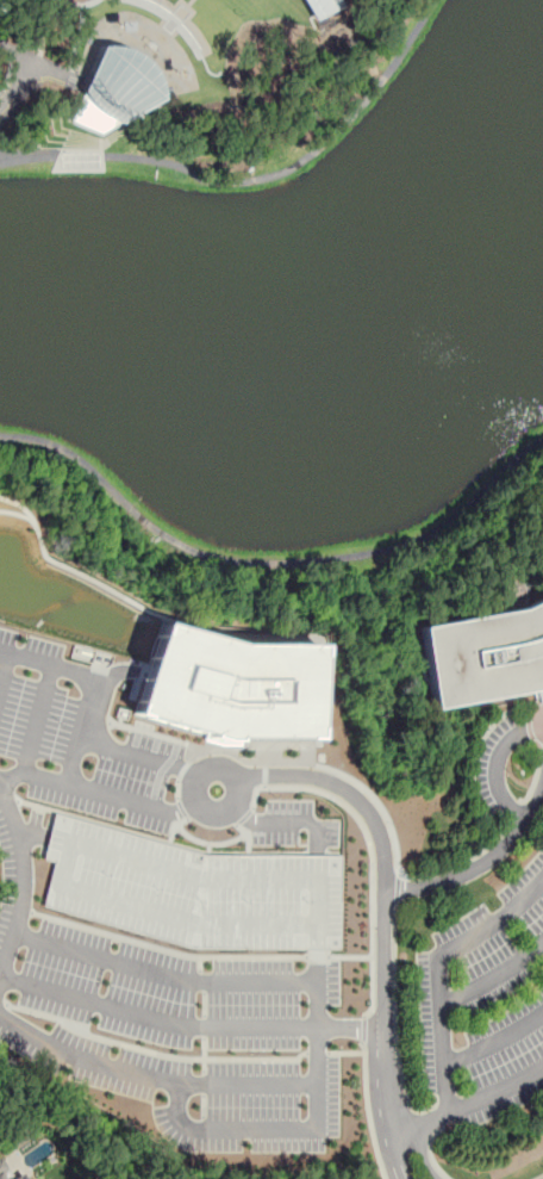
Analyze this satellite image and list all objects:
building: (319, 7)
park: (183, 76)
building: (177, 86)
road: (15, 88)
building: (116, 89)
road: (255, 180)
park: (297, 316)
road: (270, 563)
building: (483, 654)
road: (5, 669)
road: (99, 682)
building: (229, 685)
road: (36, 719)
road: (536, 725)
road: (143, 756)
road: (283, 761)
road: (489, 767)
parking lot: (495, 770)
road: (199, 778)
road: (99, 792)
road: (347, 795)
road: (291, 823)
road: (31, 831)
road: (369, 851)
road: (20, 876)
building: (193, 889)
parking garage: (193, 889)
road: (385, 913)
road: (472, 938)
road: (166, 949)
road: (318, 956)
road: (351, 956)
road: (161, 973)
road: (447, 1005)
parking lot: (482, 1005)
road: (189, 1024)
road: (362, 1029)
road: (493, 1042)
road: (344, 1051)
road: (152, 1053)
road: (316, 1053)
road: (150, 1076)
road: (495, 1093)
road: (368, 1110)
road: (425, 1125)
road: (318, 1127)
road: (430, 1148)
road: (420, 1155)
road: (398, 1158)
building: (2, 1173)
road: (538, 1177)
building: (17, 1178)

